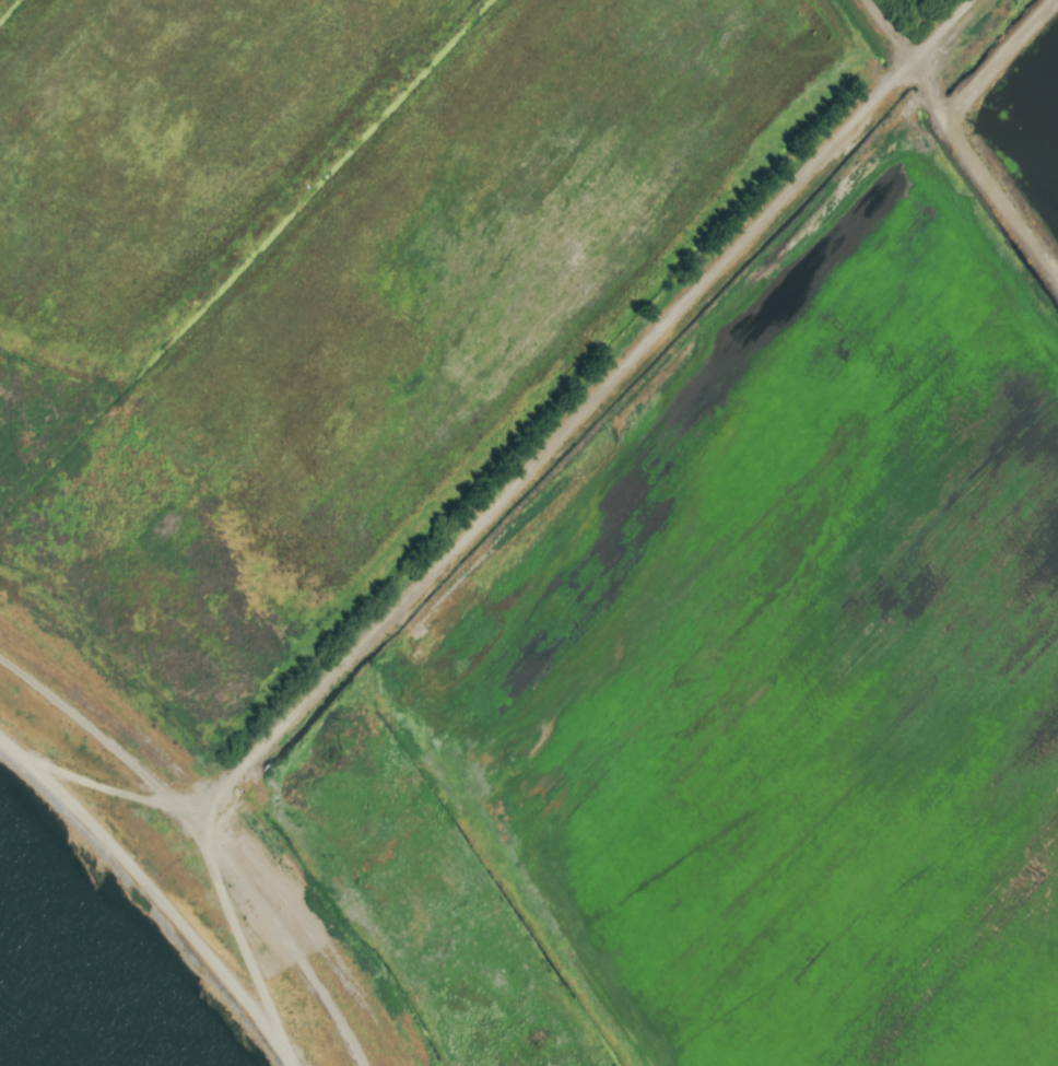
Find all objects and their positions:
crop: (564, 497)
road: (161, 891)

